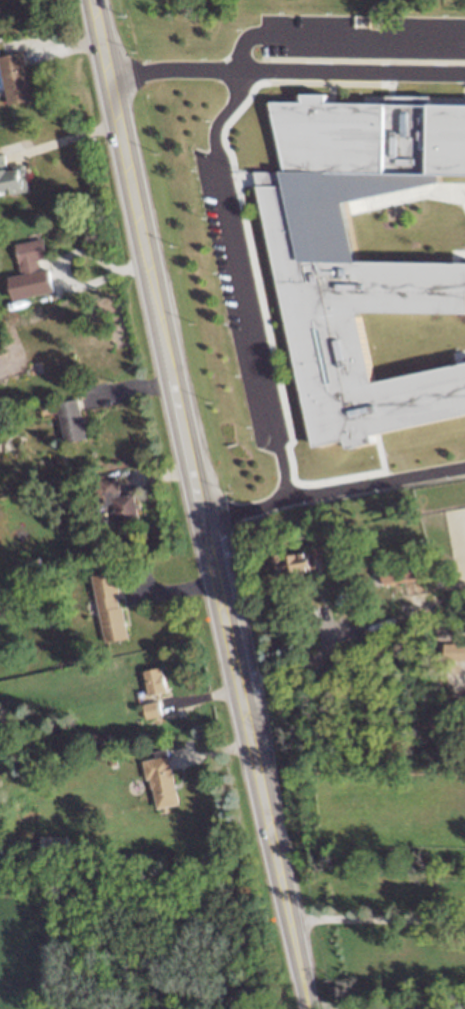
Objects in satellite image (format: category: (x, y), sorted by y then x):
road: (106, 61)
road: (172, 69)
road: (351, 69)
building: (16, 77)
road: (69, 138)
building: (12, 177)
building: (31, 270)
road: (246, 280)
building: (370, 287)
building: (72, 420)
road: (333, 487)
building: (119, 501)
building: (298, 561)
road: (214, 563)
building: (393, 575)
building: (110, 606)
building: (454, 650)
building: (155, 680)
building: (153, 708)
building: (162, 779)
road: (378, 921)
crop: (23, 950)
road: (387, 1004)
road: (310, 1007)

